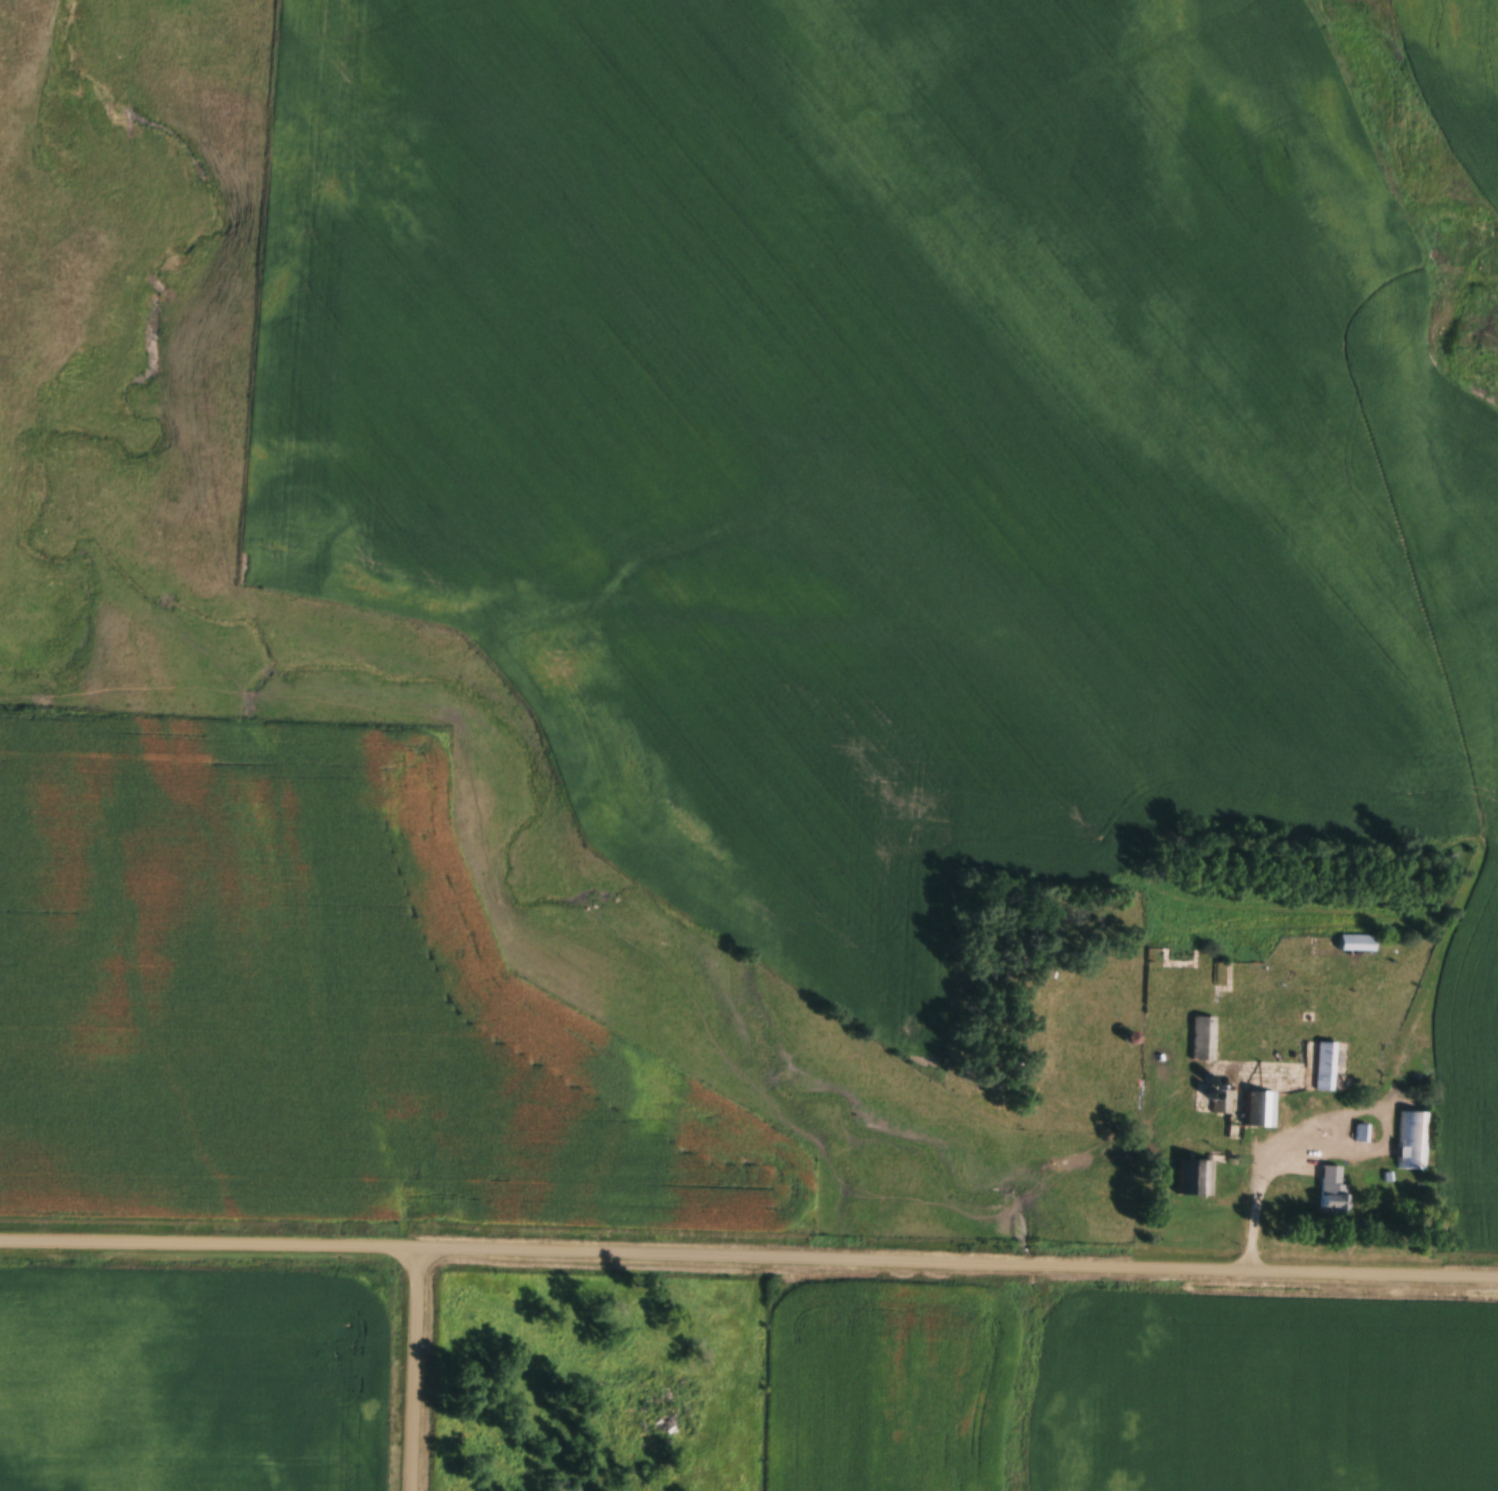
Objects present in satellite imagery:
crop: (1457, 74)
building: (1354, 942)
building: (1201, 1039)
building: (1323, 1066)
building: (1257, 1109)
building: (1359, 1133)
building: (1411, 1140)
road: (1265, 1168)
building: (1192, 1178)
building: (1330, 1191)
road: (749, 1261)
road: (410, 1370)

